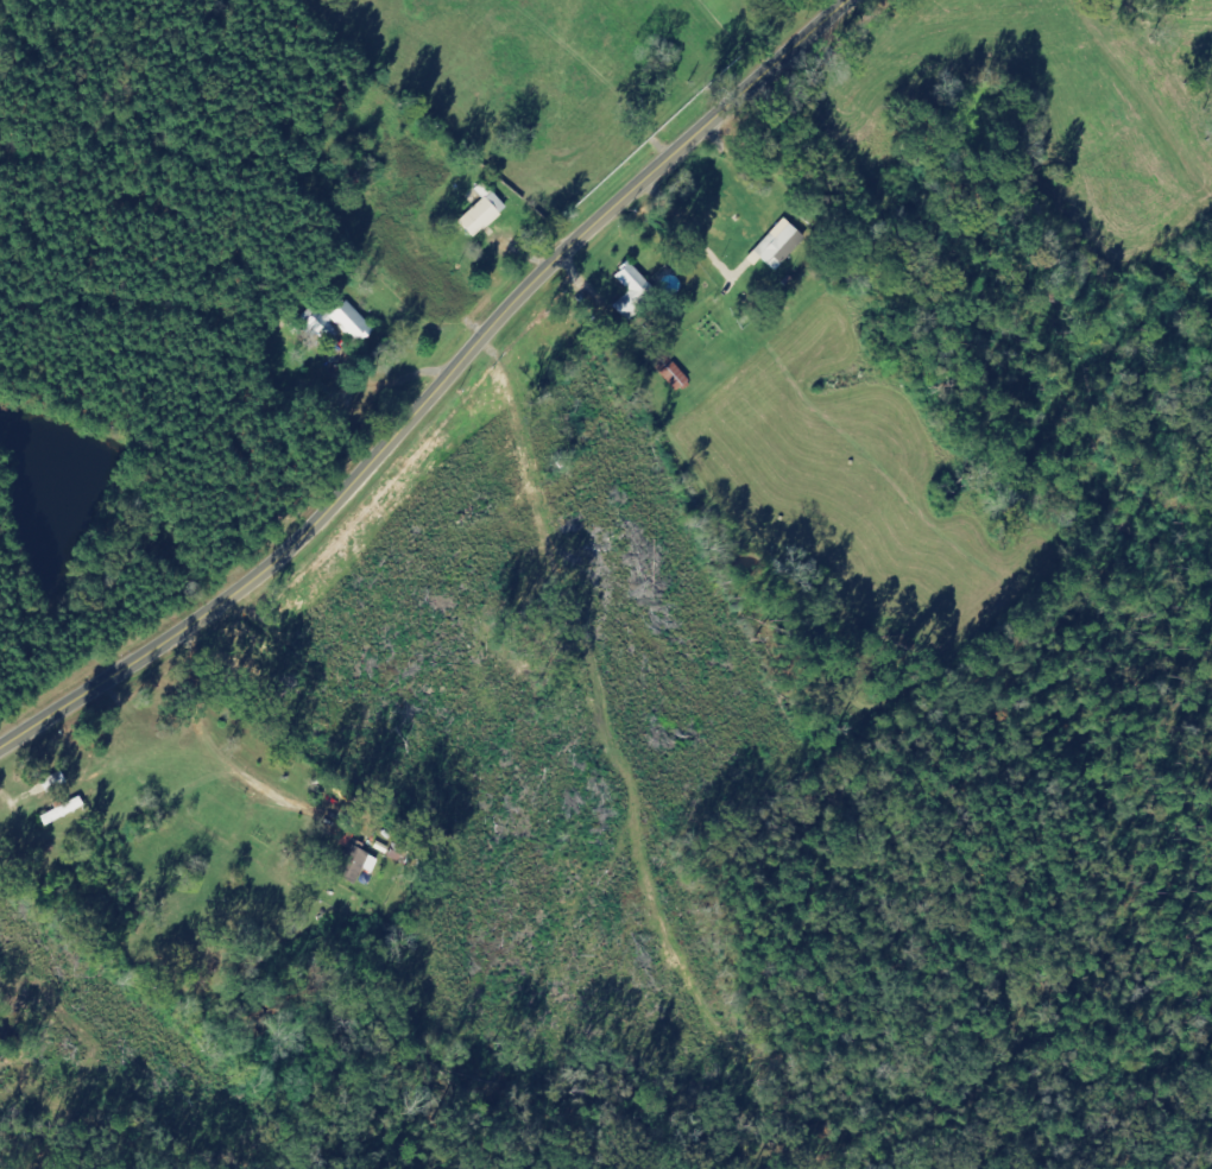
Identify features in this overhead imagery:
building: (486, 215)
building: (629, 292)
building: (353, 322)
building: (323, 328)
building: (668, 372)
road: (435, 392)
building: (358, 862)

